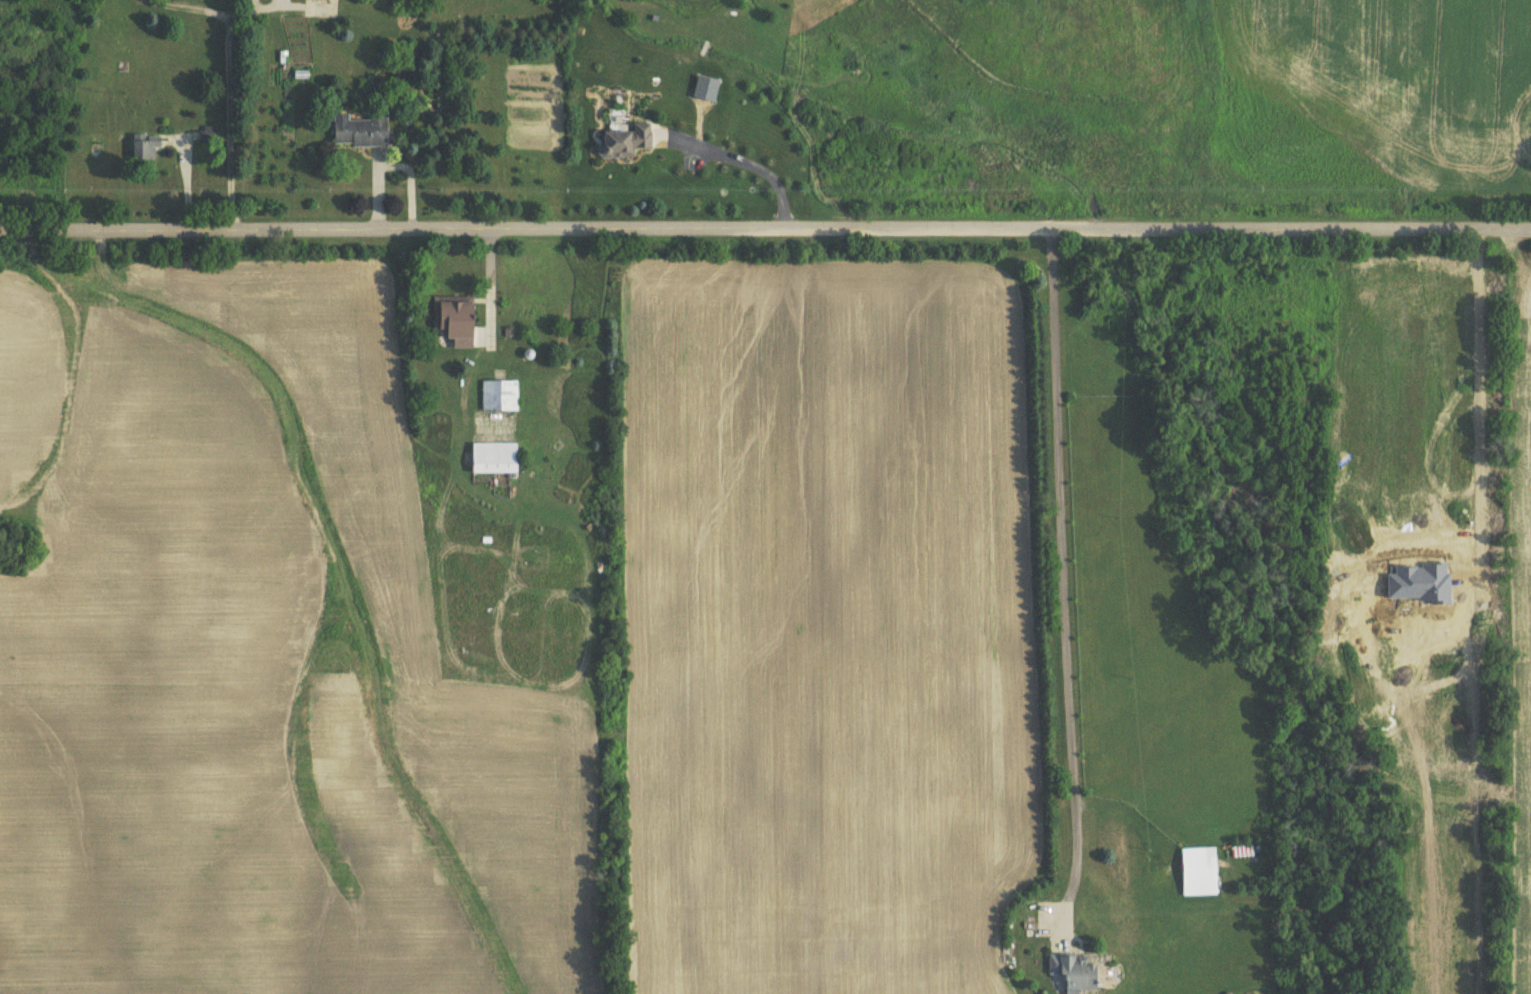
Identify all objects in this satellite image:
building: (360, 130)
building: (623, 140)
building: (142, 145)
road: (744, 161)
road: (765, 229)
road: (490, 283)
building: (452, 319)
building: (498, 395)
road: (1481, 405)
building: (492, 458)
road: (1061, 576)
building: (1196, 871)
building: (1031, 928)
building: (1071, 972)

